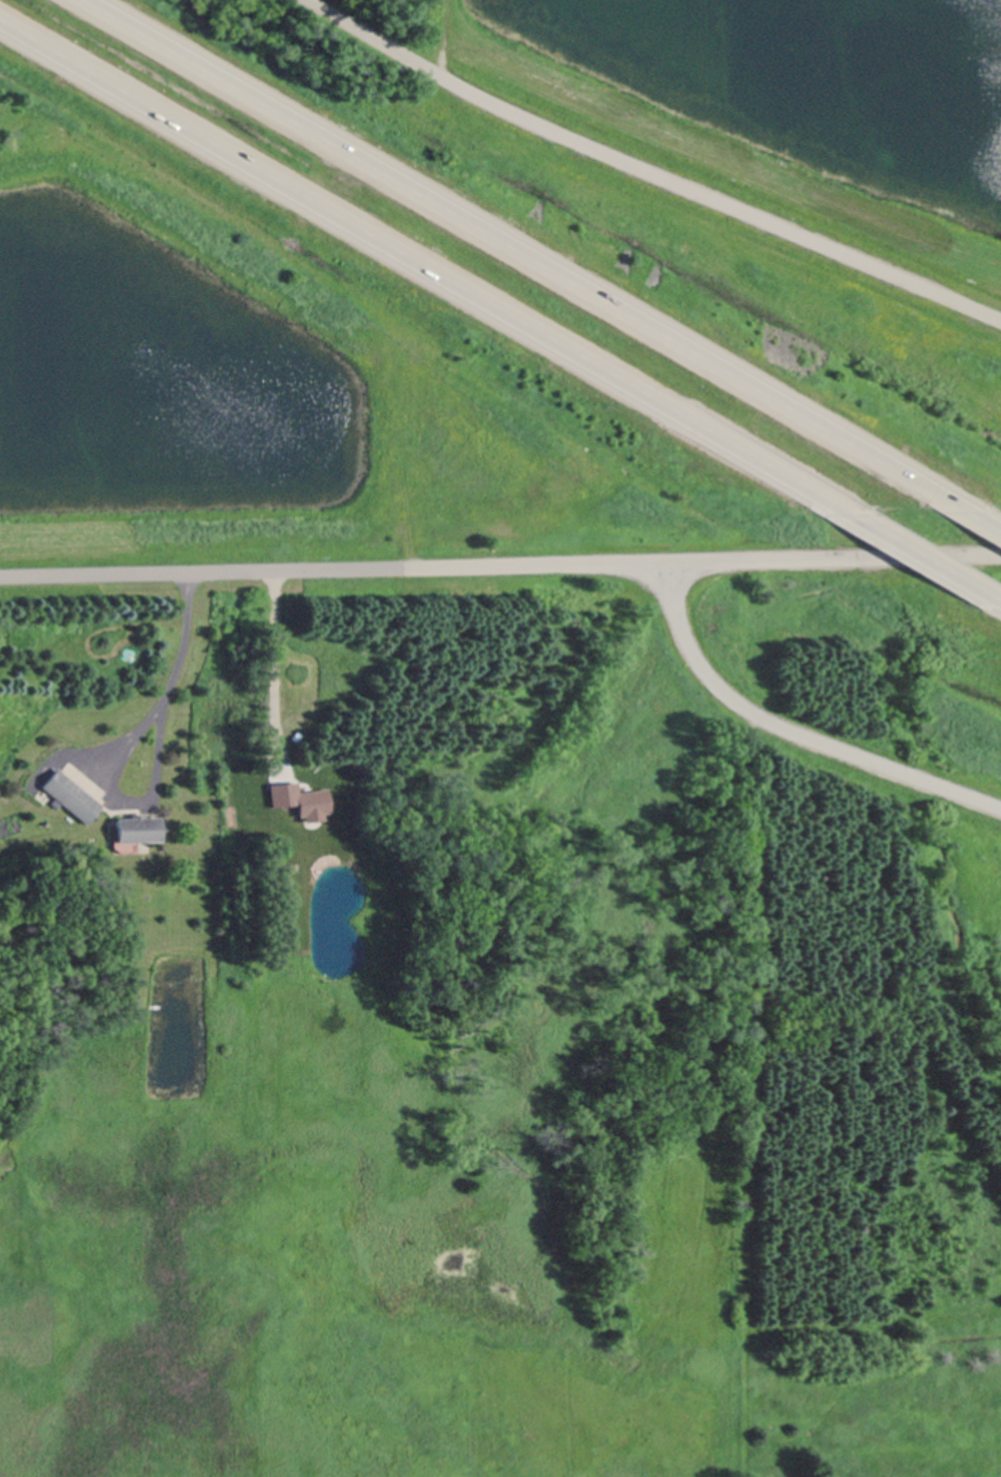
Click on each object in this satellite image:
road: (647, 174)
road: (527, 256)
road: (426, 267)
road: (984, 519)
road: (927, 555)
road: (500, 566)
road: (267, 667)
road: (791, 730)
road: (124, 747)
building: (43, 796)
building: (68, 796)
building: (301, 802)
building: (305, 819)
building: (135, 828)
building: (117, 923)
building: (157, 1007)

